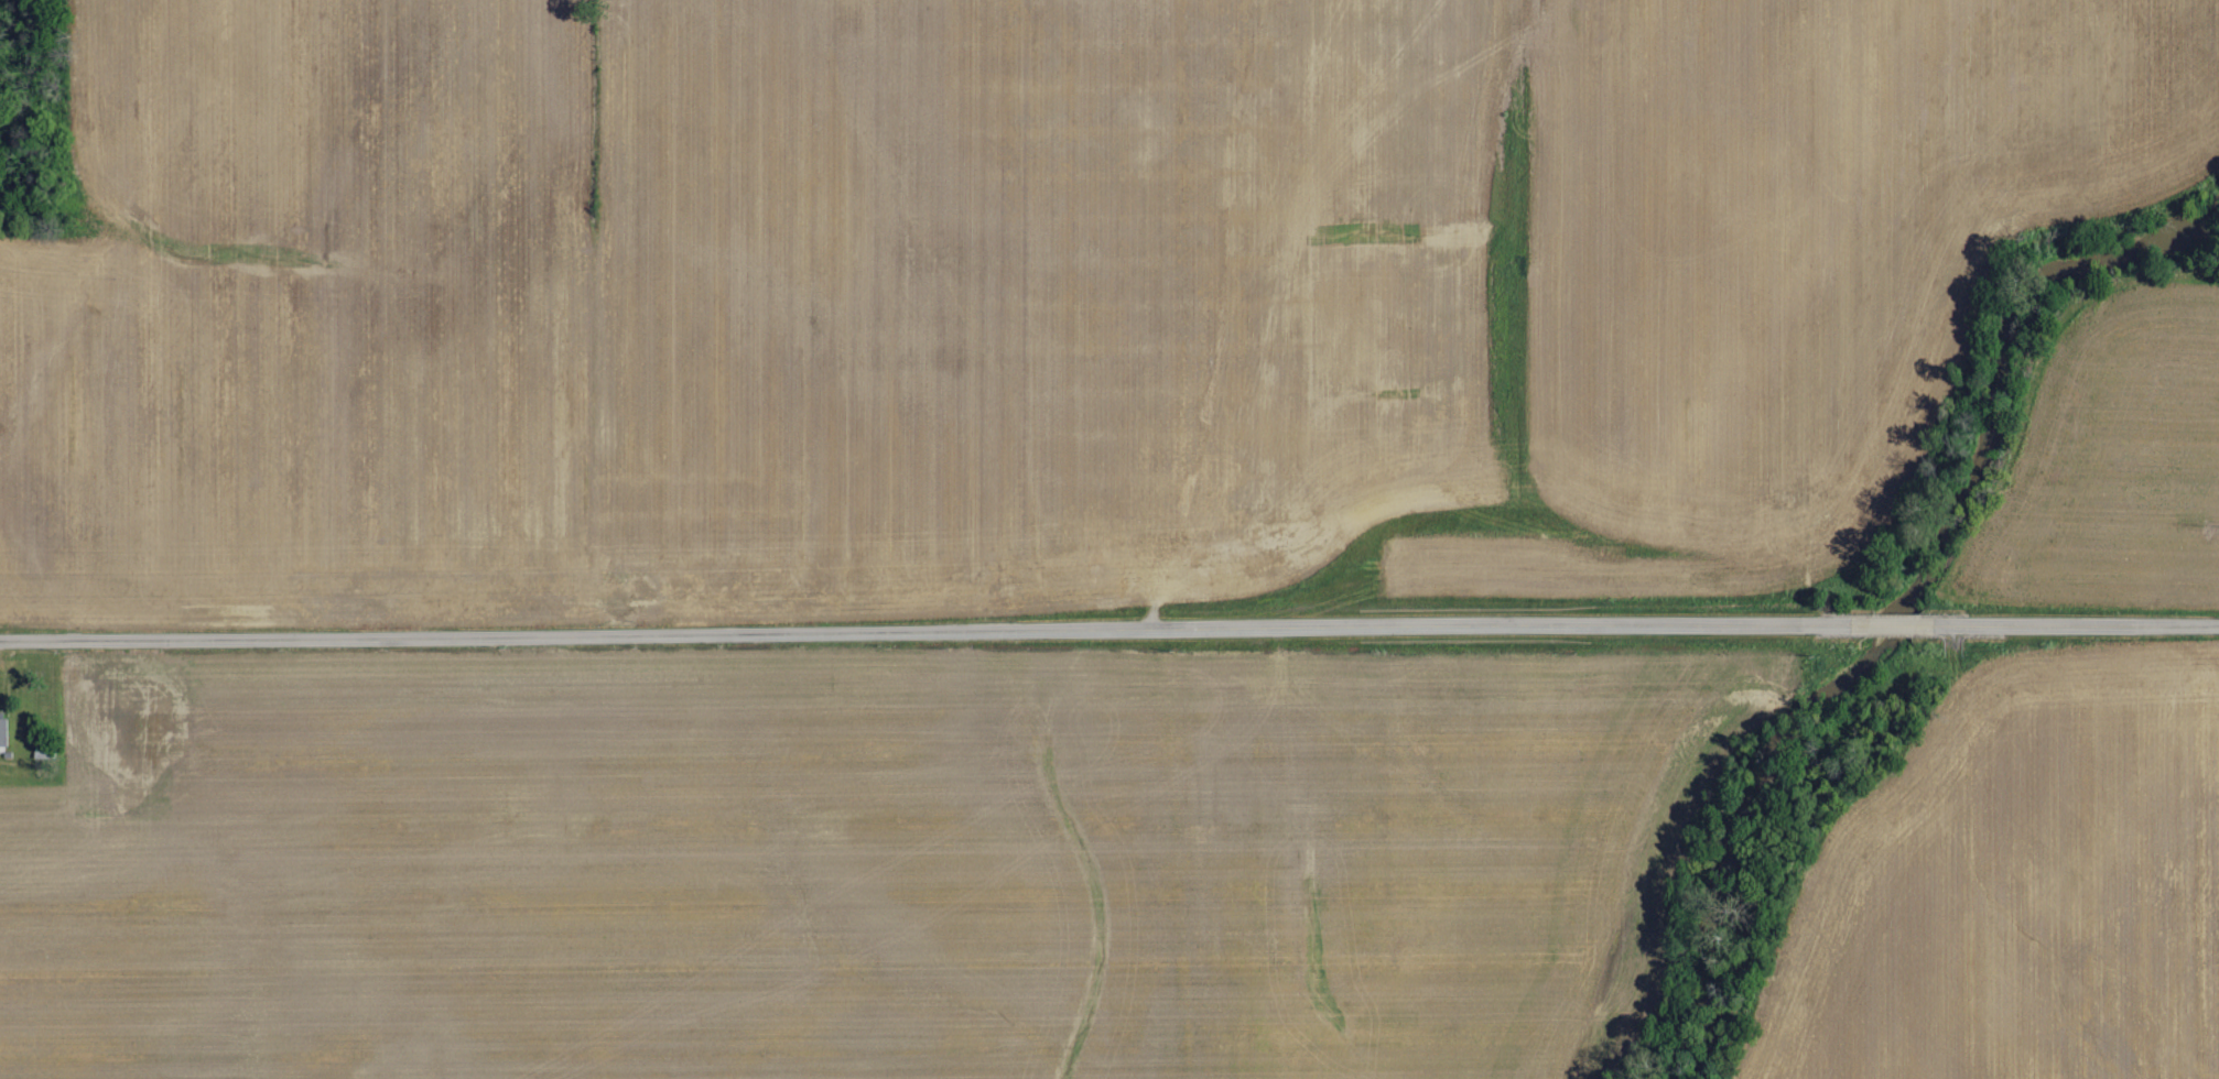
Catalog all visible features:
crop: (1014, 290)
crop: (2109, 460)
road: (2069, 625)
road: (1891, 626)
road: (930, 632)
building: (2, 731)

